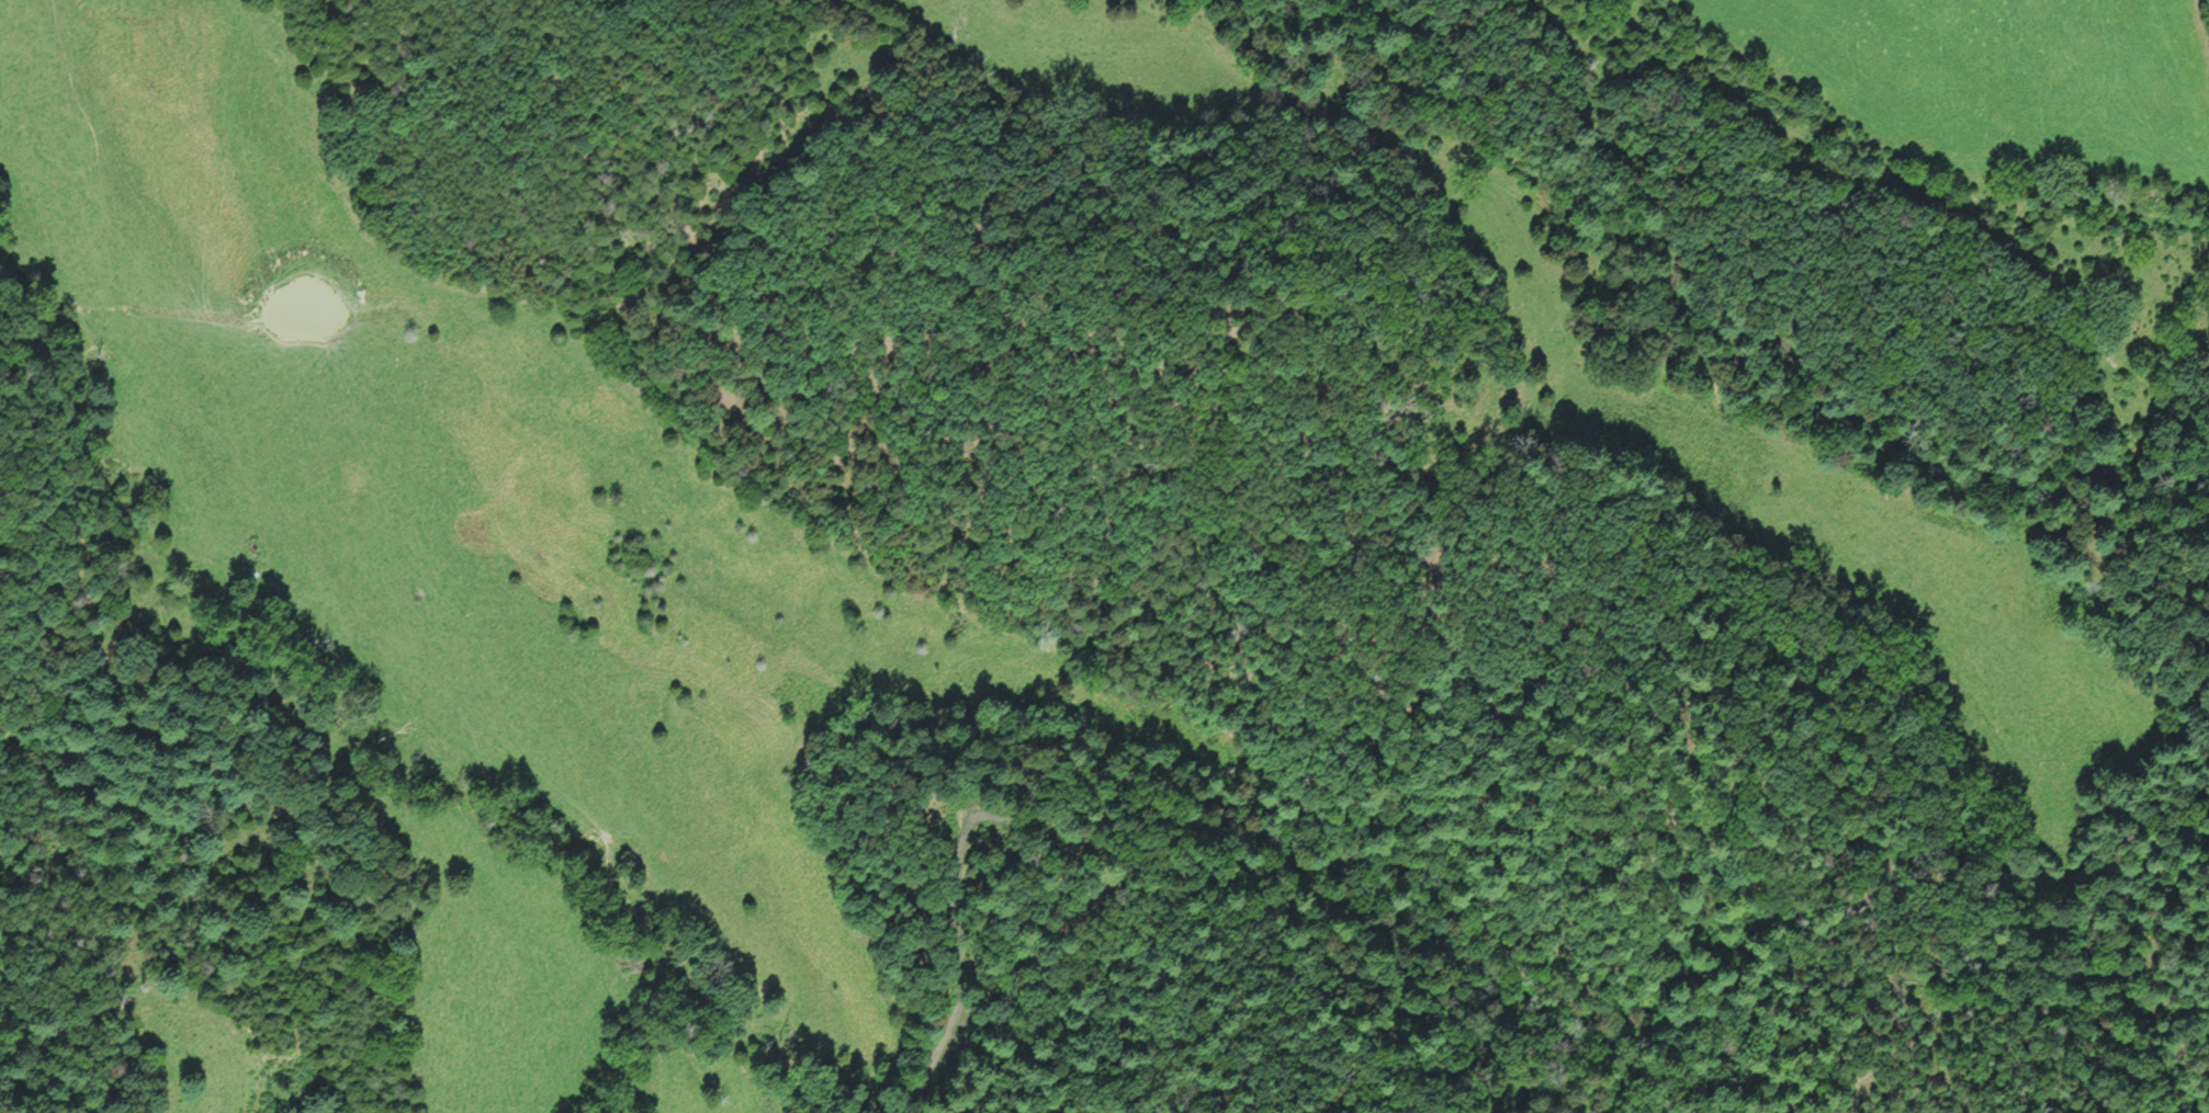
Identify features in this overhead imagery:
road: (984, 811)

